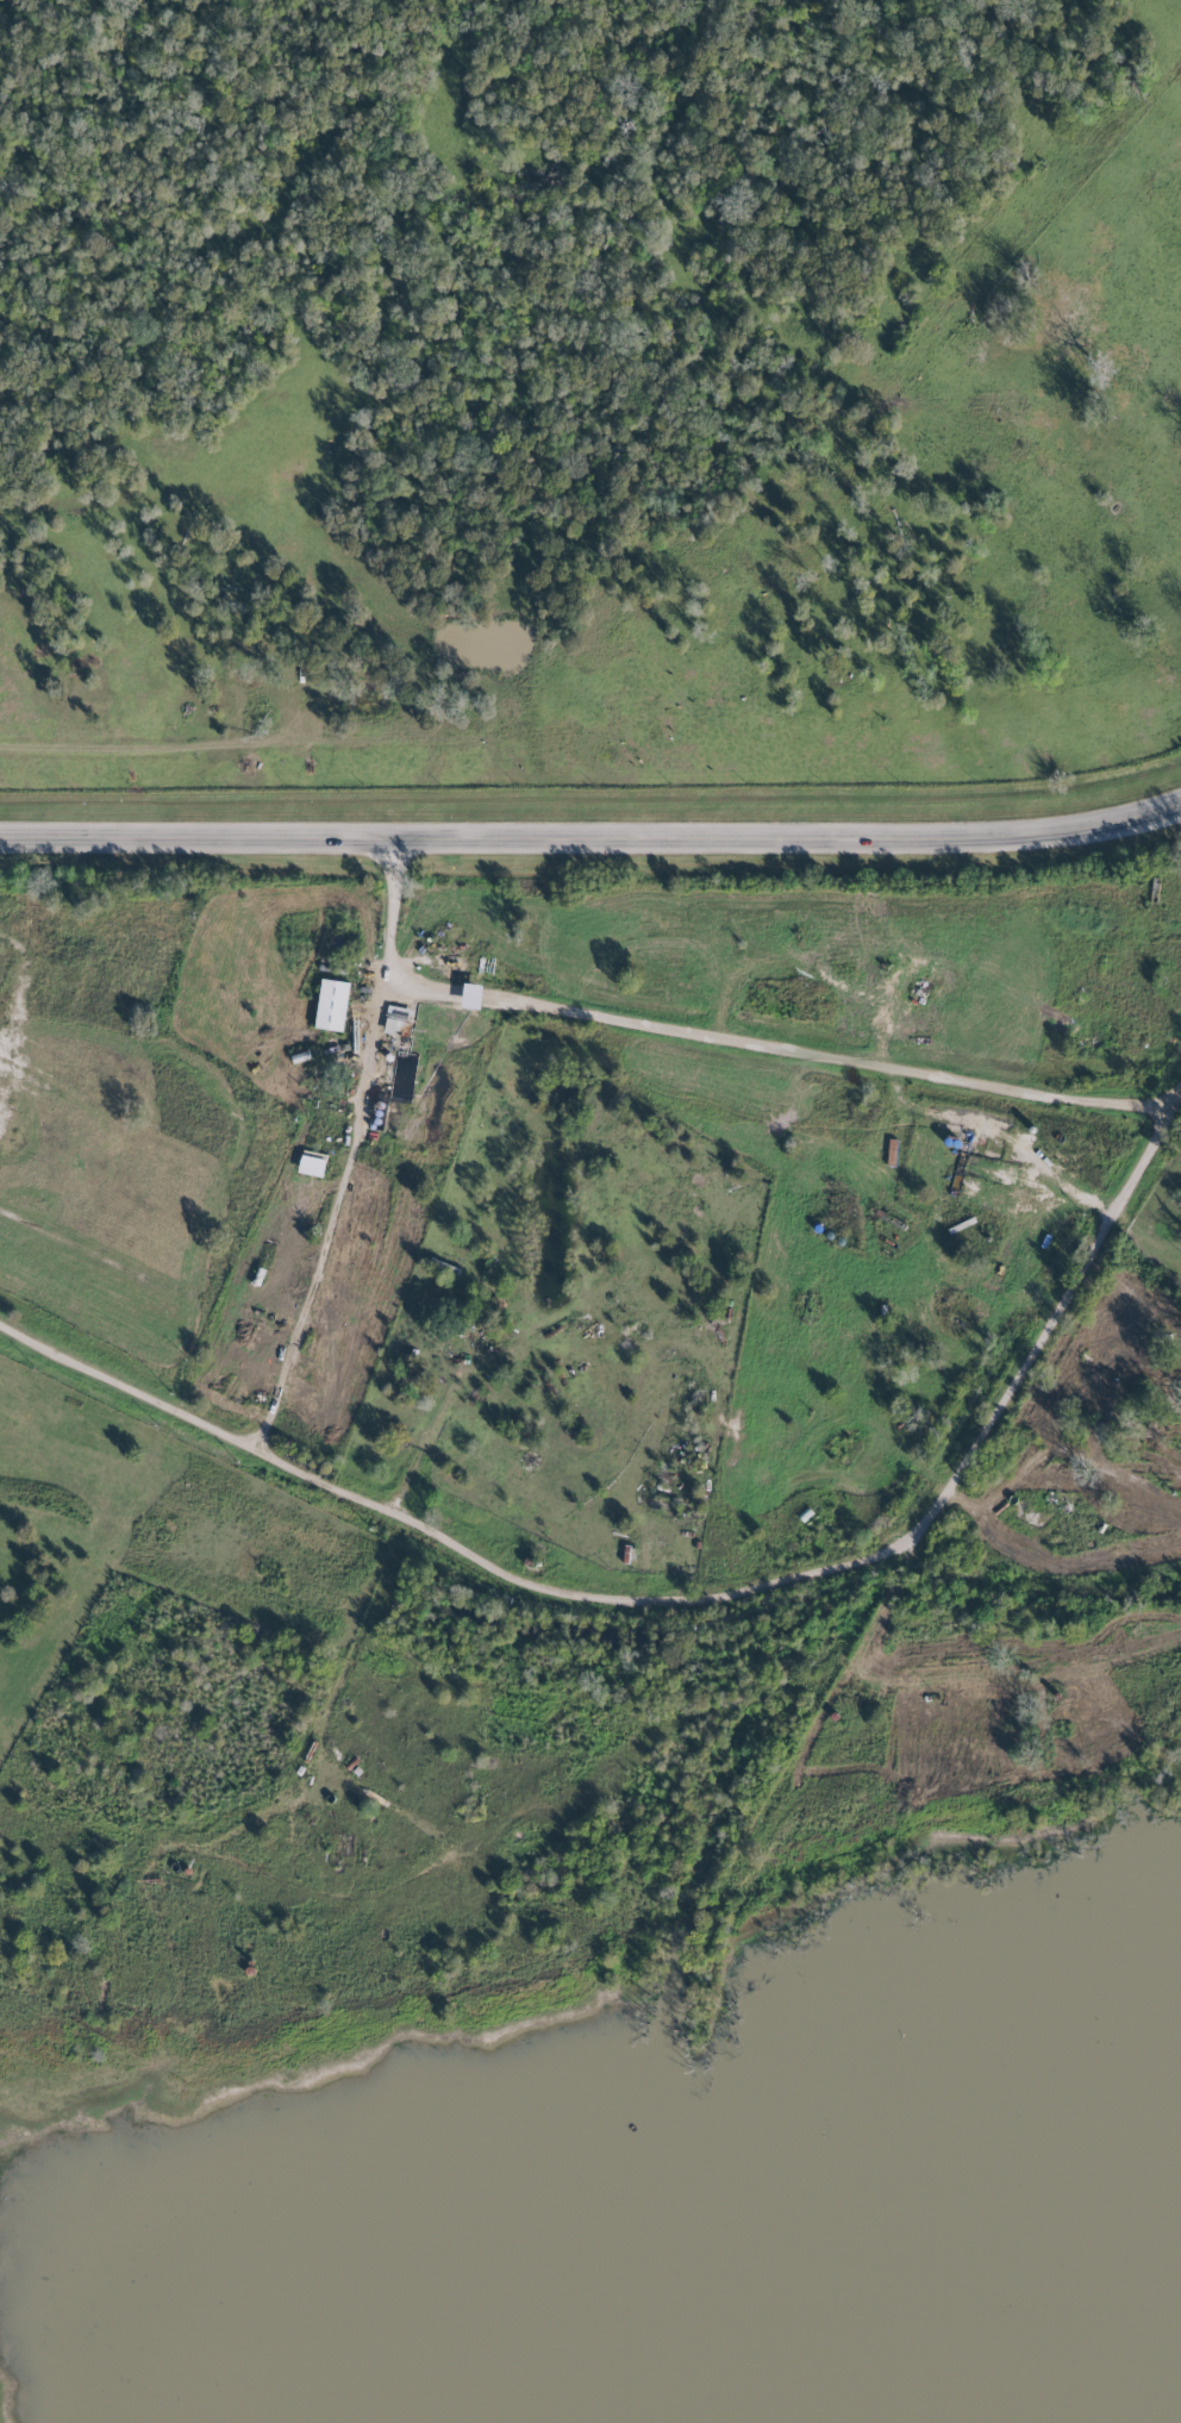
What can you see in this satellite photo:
road: (592, 836)
road: (17, 992)
building: (471, 997)
building: (331, 1005)
building: (394, 1019)
road: (349, 1144)
building: (311, 1163)
road: (1144, 1239)
road: (681, 1594)

